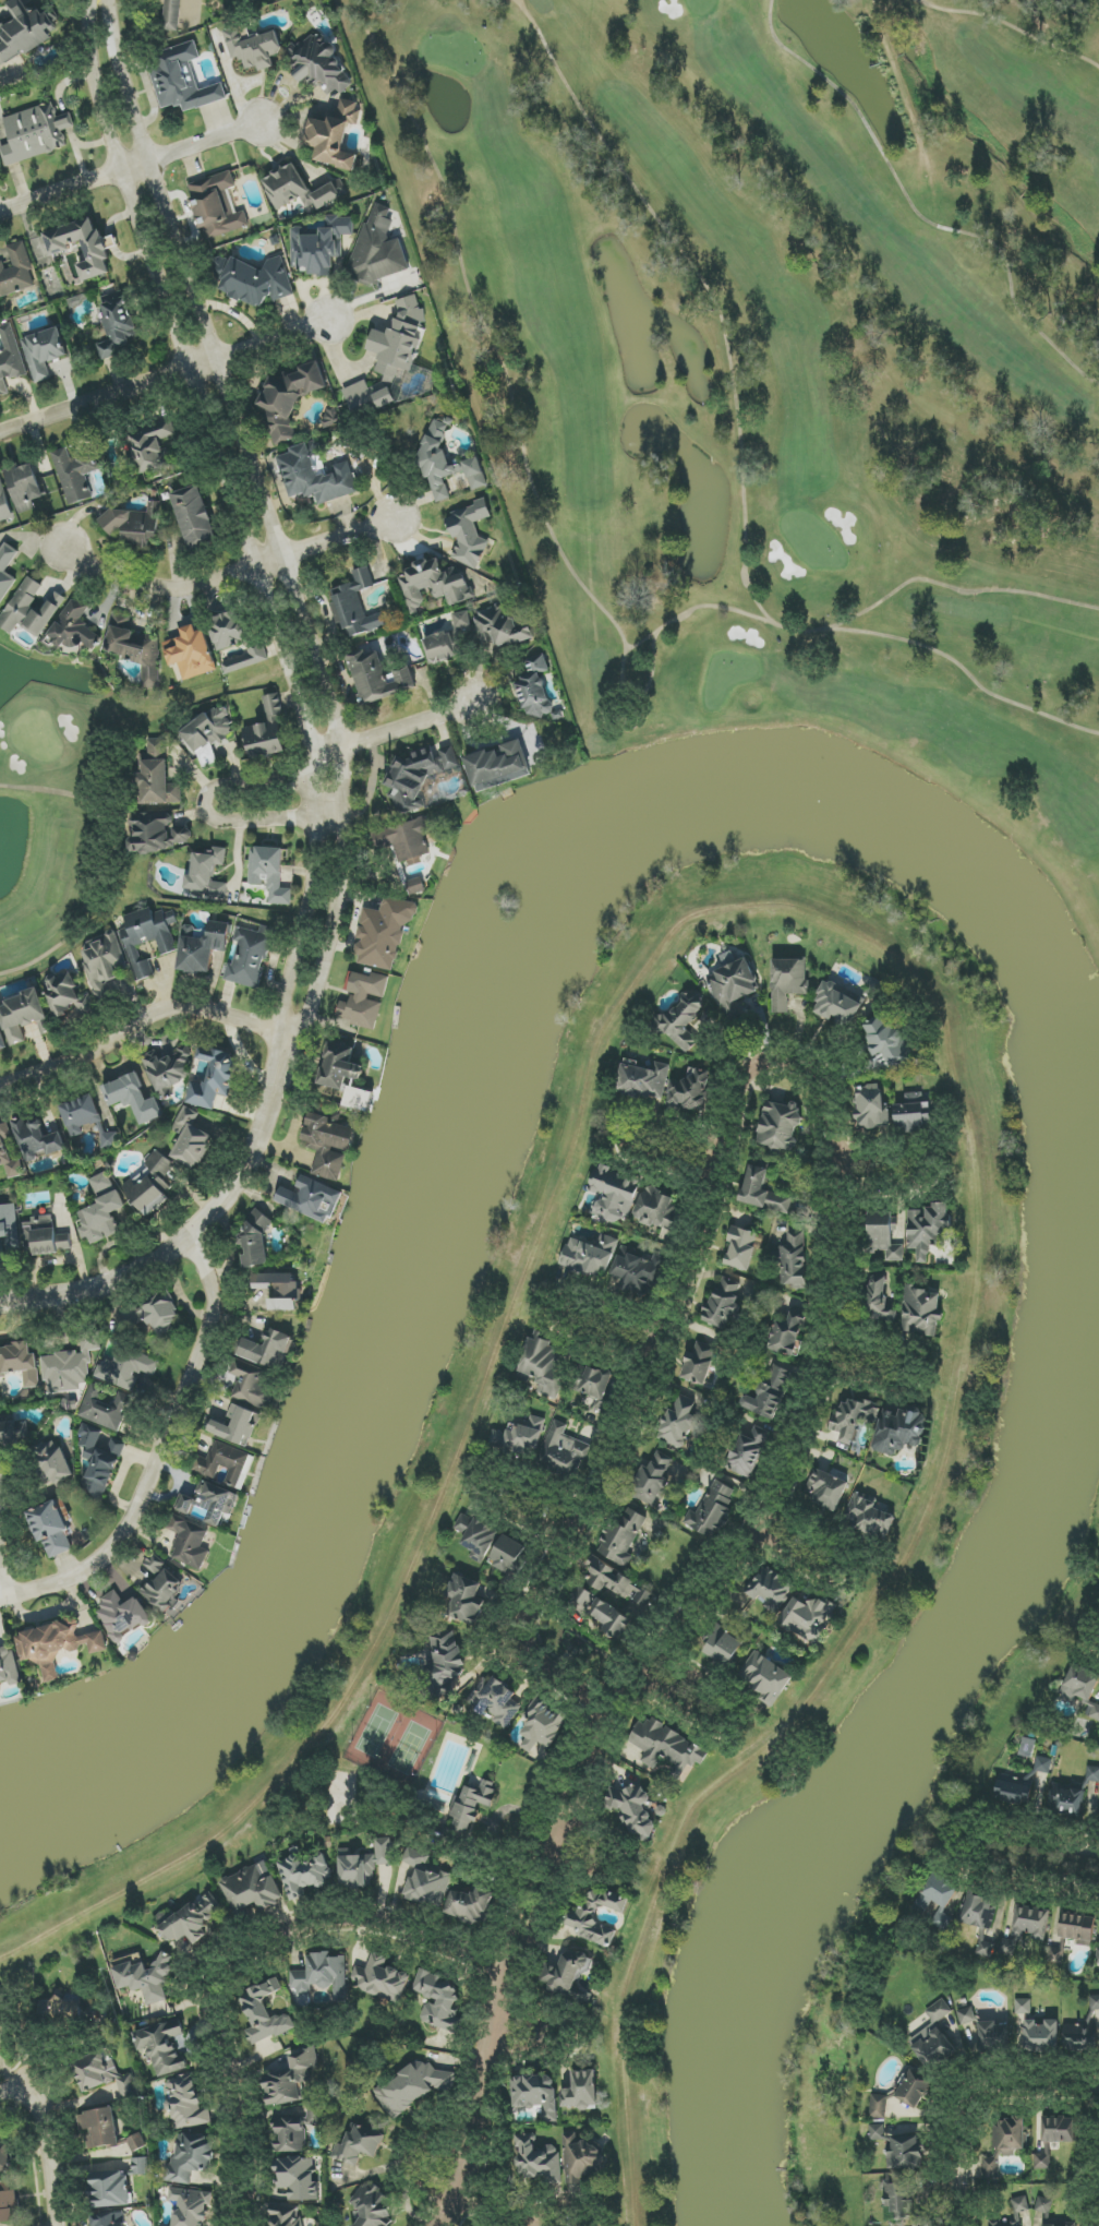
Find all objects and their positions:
building: (171, 15)
road: (1011, 26)
building: (25, 31)
building: (253, 48)
building: (319, 64)
building: (183, 80)
building: (35, 133)
building: (335, 136)
road: (130, 167)
building: (299, 189)
building: (217, 206)
road: (917, 211)
building: (319, 247)
building: (378, 249)
building: (97, 251)
building: (16, 271)
building: (253, 280)
building: (118, 325)
building: (44, 352)
building: (391, 356)
road: (498, 357)
building: (10, 358)
road: (167, 375)
building: (289, 399)
building: (331, 417)
building: (152, 445)
park: (788, 446)
road: (742, 459)
building: (446, 463)
building: (75, 474)
building: (314, 478)
building: (24, 487)
building: (4, 504)
building: (194, 516)
building: (134, 525)
building: (469, 534)
building: (7, 570)
road: (256, 572)
road: (290, 574)
road: (229, 575)
building: (434, 584)
road: (956, 589)
building: (357, 606)
road: (697, 609)
building: (31, 610)
building: (503, 627)
building: (74, 629)
building: (229, 630)
building: (447, 641)
building: (135, 647)
building: (191, 654)
building: (249, 658)
building: (377, 678)
building: (535, 689)
road: (398, 727)
building: (267, 731)
building: (208, 734)
building: (498, 766)
building: (418, 775)
building: (158, 776)
road: (208, 804)
park: (51, 816)
building: (159, 833)
building: (406, 839)
building: (269, 873)
building: (206, 875)
building: (416, 886)
building: (384, 933)
building: (147, 937)
building: (202, 947)
building: (250, 957)
building: (102, 961)
building: (788, 982)
building: (734, 986)
building: (875, 990)
building: (69, 995)
building: (364, 998)
building: (836, 1005)
building: (22, 1015)
road: (146, 1018)
building: (683, 1020)
building: (2, 1042)
building: (887, 1044)
building: (339, 1066)
building: (169, 1070)
building: (214, 1078)
building: (643, 1081)
building: (690, 1091)
building: (133, 1098)
building: (871, 1108)
building: (913, 1113)
building: (81, 1114)
building: (780, 1126)
road: (628, 1133)
building: (37, 1139)
building: (109, 1139)
building: (191, 1140)
building: (328, 1145)
building: (9, 1153)
road: (932, 1164)
building: (150, 1184)
building: (762, 1193)
building: (614, 1195)
building: (310, 1199)
building: (657, 1209)
building: (101, 1211)
building: (9, 1229)
building: (927, 1229)
building: (45, 1236)
building: (883, 1236)
building: (255, 1243)
building: (740, 1248)
building: (590, 1256)
building: (794, 1261)
road: (147, 1264)
building: (638, 1271)
building: (279, 1290)
building: (879, 1297)
building: (724, 1304)
building: (921, 1312)
road: (575, 1313)
building: (162, 1315)
road: (660, 1317)
building: (787, 1335)
building: (268, 1350)
building: (699, 1363)
building: (20, 1364)
building: (543, 1364)
building: (71, 1366)
building: (126, 1367)
road: (910, 1371)
building: (253, 1385)
building: (595, 1387)
building: (770, 1392)
building: (105, 1408)
building: (850, 1419)
building: (683, 1423)
building: (237, 1426)
building: (13, 1432)
building: (899, 1432)
building: (520, 1437)
building: (565, 1451)
building: (749, 1451)
road: (162, 1456)
building: (99, 1461)
building: (53, 1463)
building: (227, 1463)
building: (651, 1481)
building: (825, 1489)
building: (209, 1503)
road: (535, 1508)
building: (712, 1510)
building: (868, 1517)
building: (52, 1530)
building: (621, 1537)
building: (190, 1543)
building: (509, 1556)
road: (843, 1568)
road: (3, 1572)
building: (162, 1583)
building: (617, 1583)
building: (770, 1589)
building: (464, 1601)
building: (599, 1612)
building: (123, 1616)
building: (809, 1617)
building: (57, 1644)
building: (723, 1645)
road: (653, 1655)
building: (444, 1666)
building: (8, 1667)
building: (765, 1677)
road: (554, 1679)
building: (1079, 1684)
building: (494, 1701)
building: (1092, 1712)
road: (728, 1713)
building: (542, 1724)
building: (666, 1747)
building: (1043, 1764)
building: (1092, 1774)
park: (418, 1784)
building: (1014, 1791)
building: (1065, 1799)
building: (471, 1805)
road: (1047, 1848)
road: (587, 1855)
building: (363, 1865)
building: (305, 1874)
road: (1049, 1878)
building: (426, 1879)
building: (253, 1888)
building: (940, 1900)
building: (470, 1905)
building: (978, 1912)
building: (594, 1915)
building: (190, 1922)
road: (307, 1923)
building: (1030, 1923)
building: (1077, 1929)
building: (986, 1949)
building: (1006, 1950)
building: (1098, 1963)
building: (566, 1973)
building: (322, 1976)
building: (381, 1978)
building: (145, 1979)
building: (438, 1999)
building: (1095, 2002)
building: (1023, 2007)
building: (63, 2011)
building: (264, 2014)
building: (966, 2015)
road: (547, 2032)
building: (1041, 2036)
building: (993, 2037)
building: (1080, 2038)
building: (934, 2039)
building: (162, 2047)
building: (102, 2074)
building: (291, 2079)
road: (20, 2086)
road: (962, 2087)
building: (411, 2089)
building: (914, 2089)
building: (581, 2091)
building: (536, 2094)
building: (185, 2103)
building: (879, 2106)
building: (99, 2128)
building: (1059, 2129)
building: (294, 2130)
building: (877, 2132)
building: (136, 2142)
building: (359, 2144)
building: (1003, 2144)
road: (245, 2145)
building: (905, 2153)
road: (48, 2154)
building: (191, 2157)
building: (581, 2157)
building: (4, 2158)
building: (1043, 2158)
building: (536, 2159)
building: (140, 2166)
building: (297, 2178)
road: (428, 2180)
building: (110, 2189)
building: (8, 2201)
building: (371, 2205)
building: (191, 2206)
building: (1043, 2206)
building: (1013, 2213)
building: (286, 2216)
building: (110, 2219)
road: (552, 2219)
road: (522, 2224)

